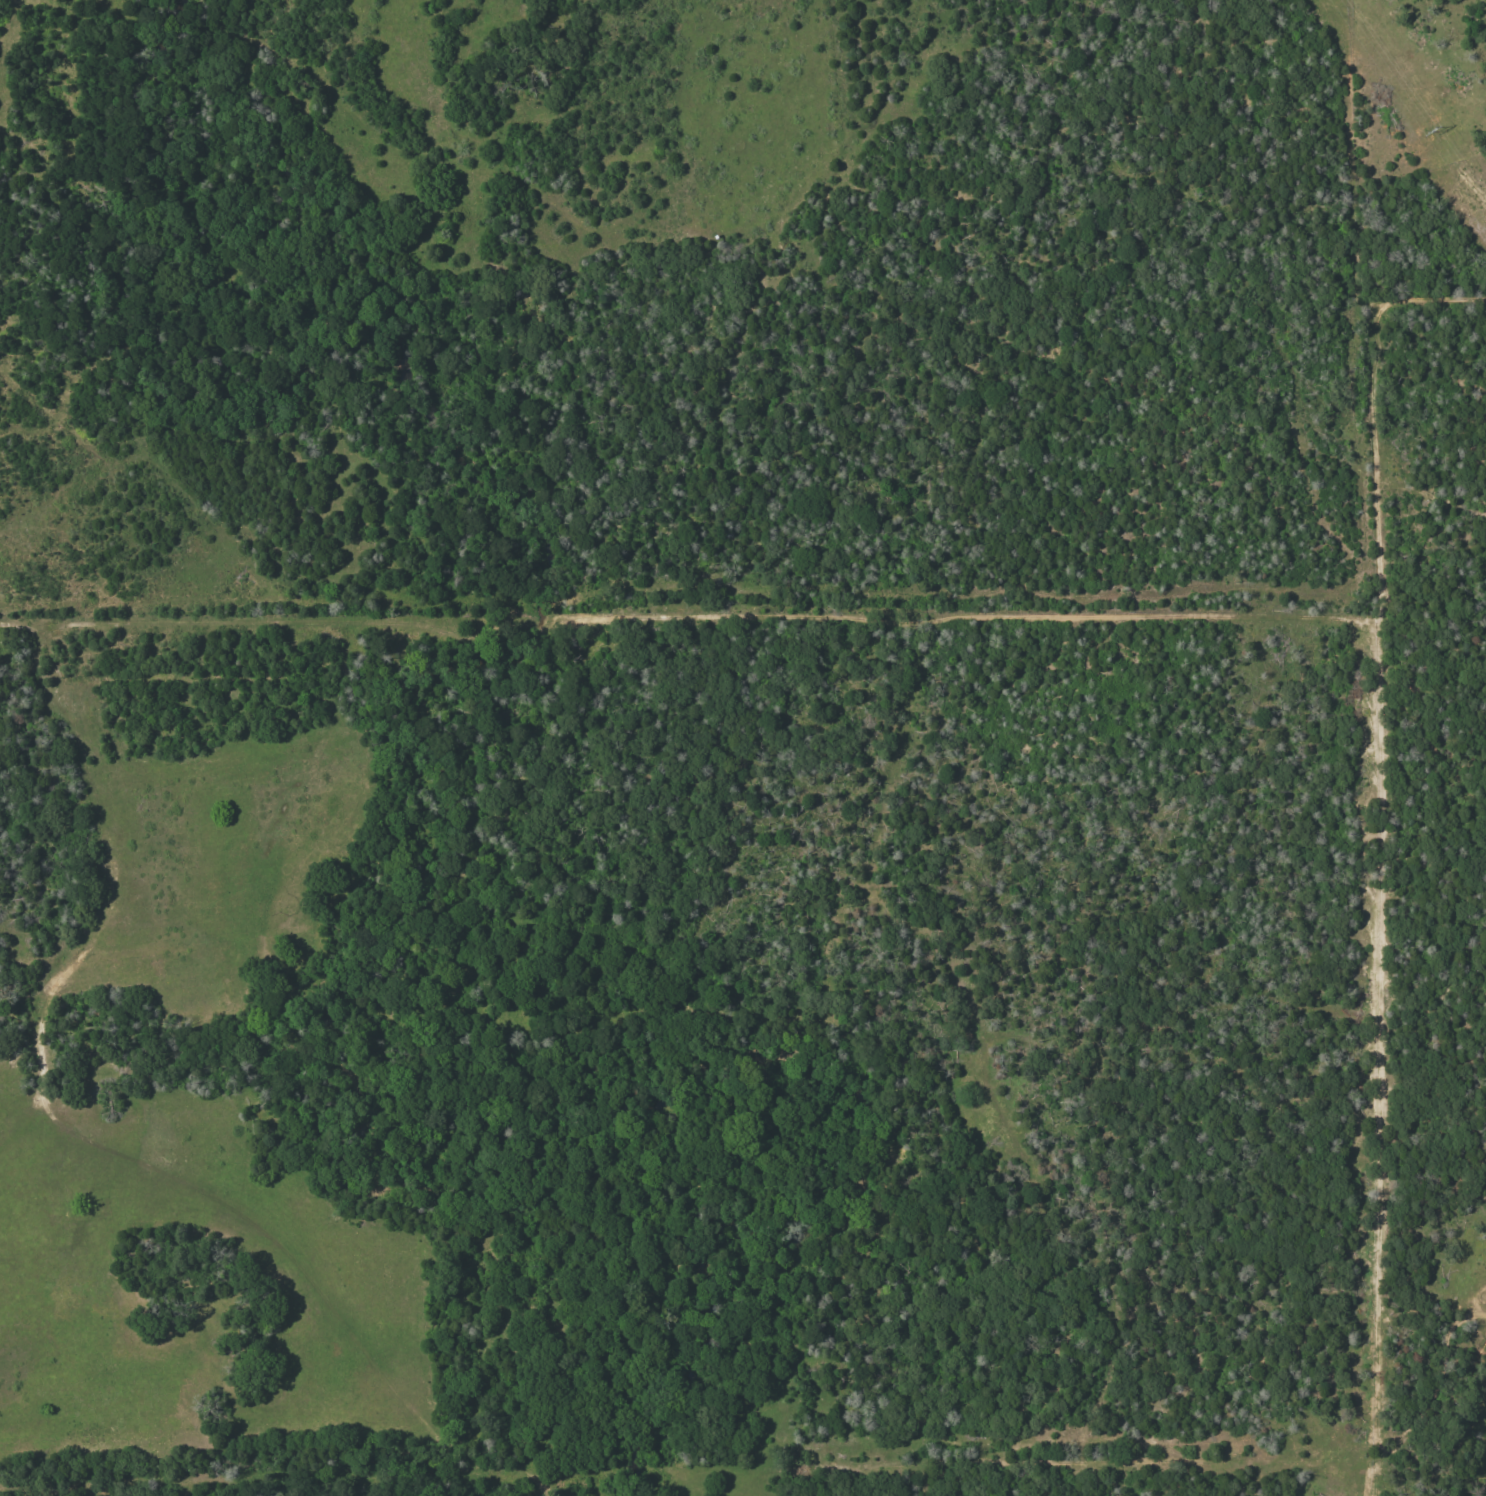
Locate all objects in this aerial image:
power tower: (1429, 128)

